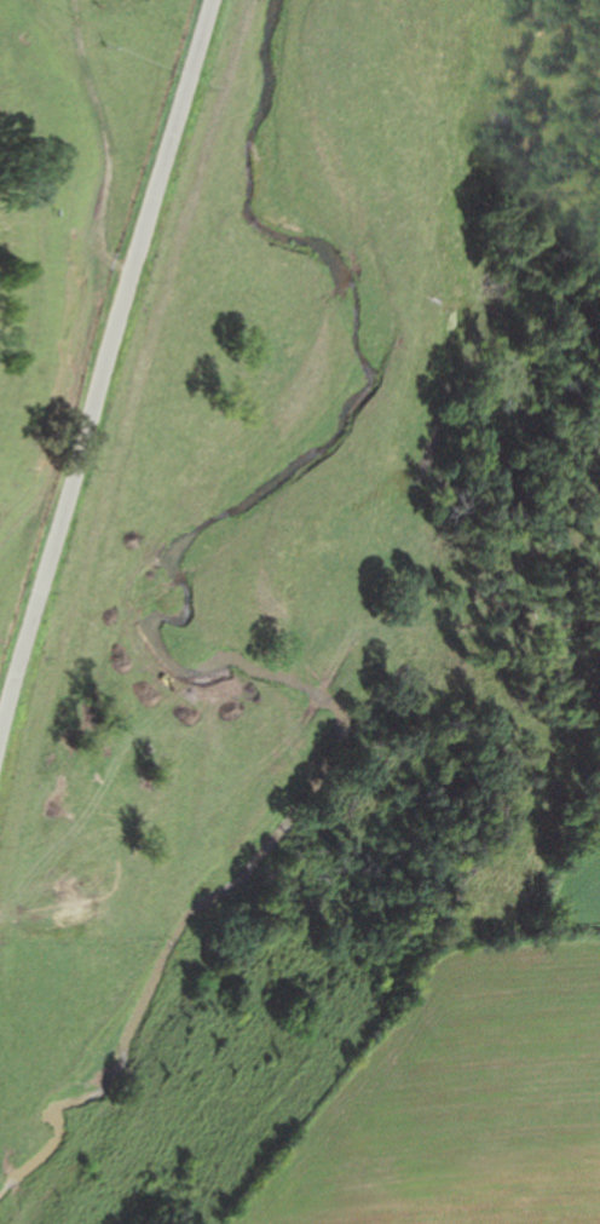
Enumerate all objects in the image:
road: (102, 143)
road: (99, 352)

